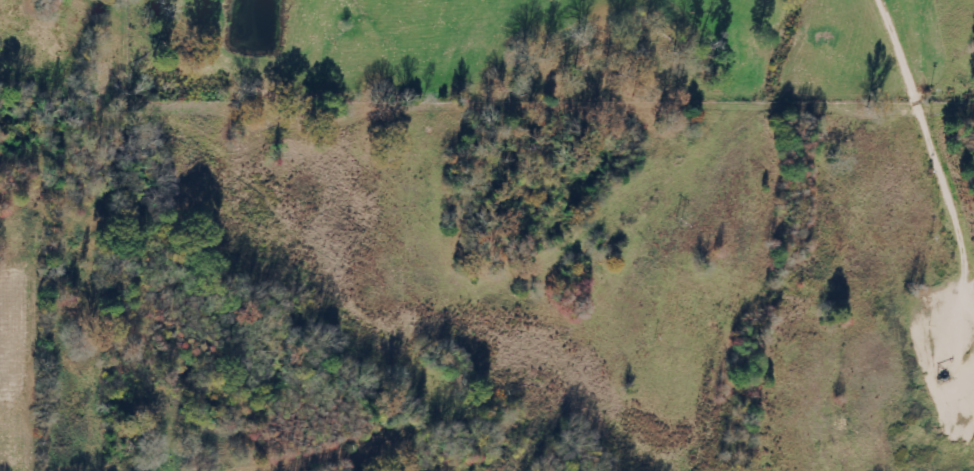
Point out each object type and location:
power tower: (677, 226)

